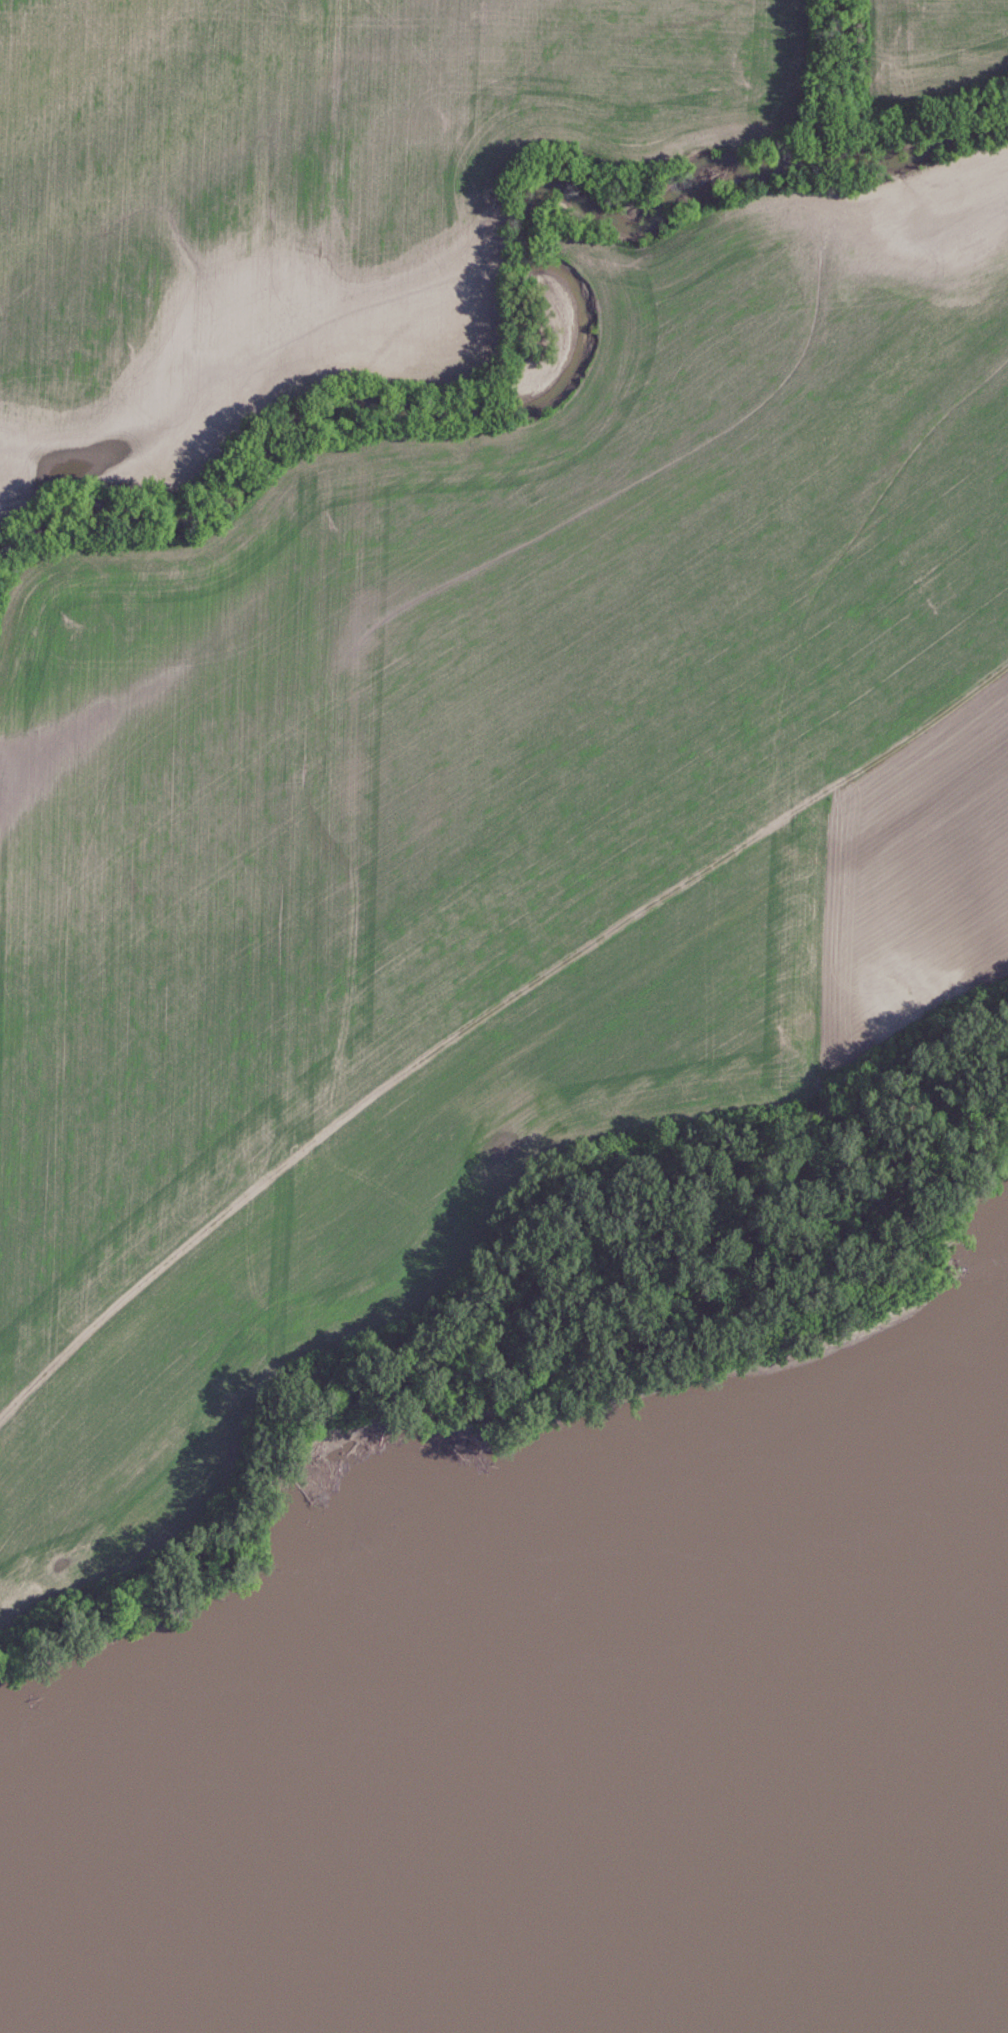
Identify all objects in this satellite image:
river: (790, 1895)

